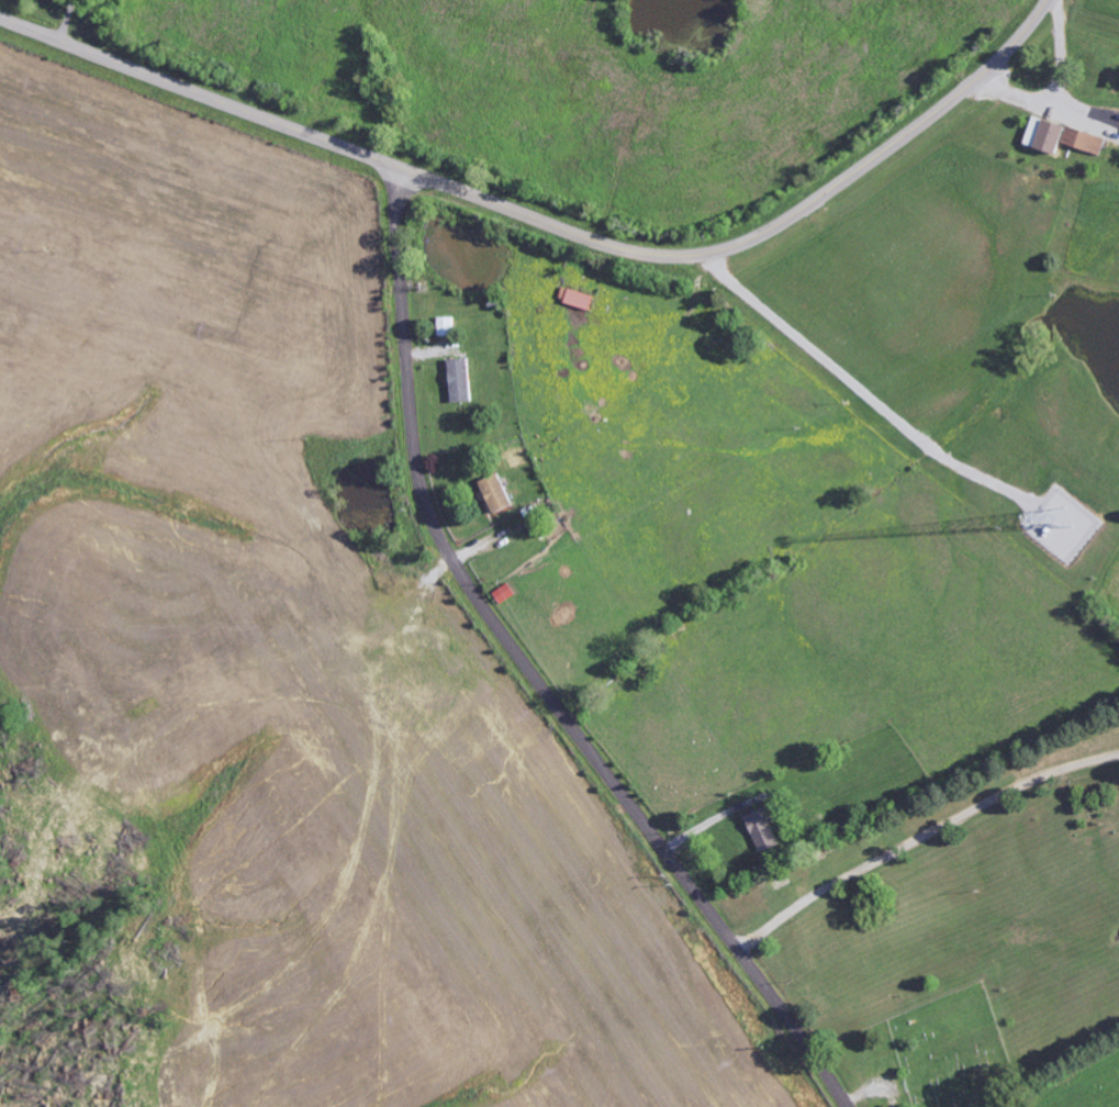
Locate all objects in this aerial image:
building: (1064, 137)
road: (551, 225)
building: (582, 299)
building: (448, 326)
building: (462, 381)
building: (499, 494)
road: (533, 671)
building: (765, 831)
park: (955, 1051)

